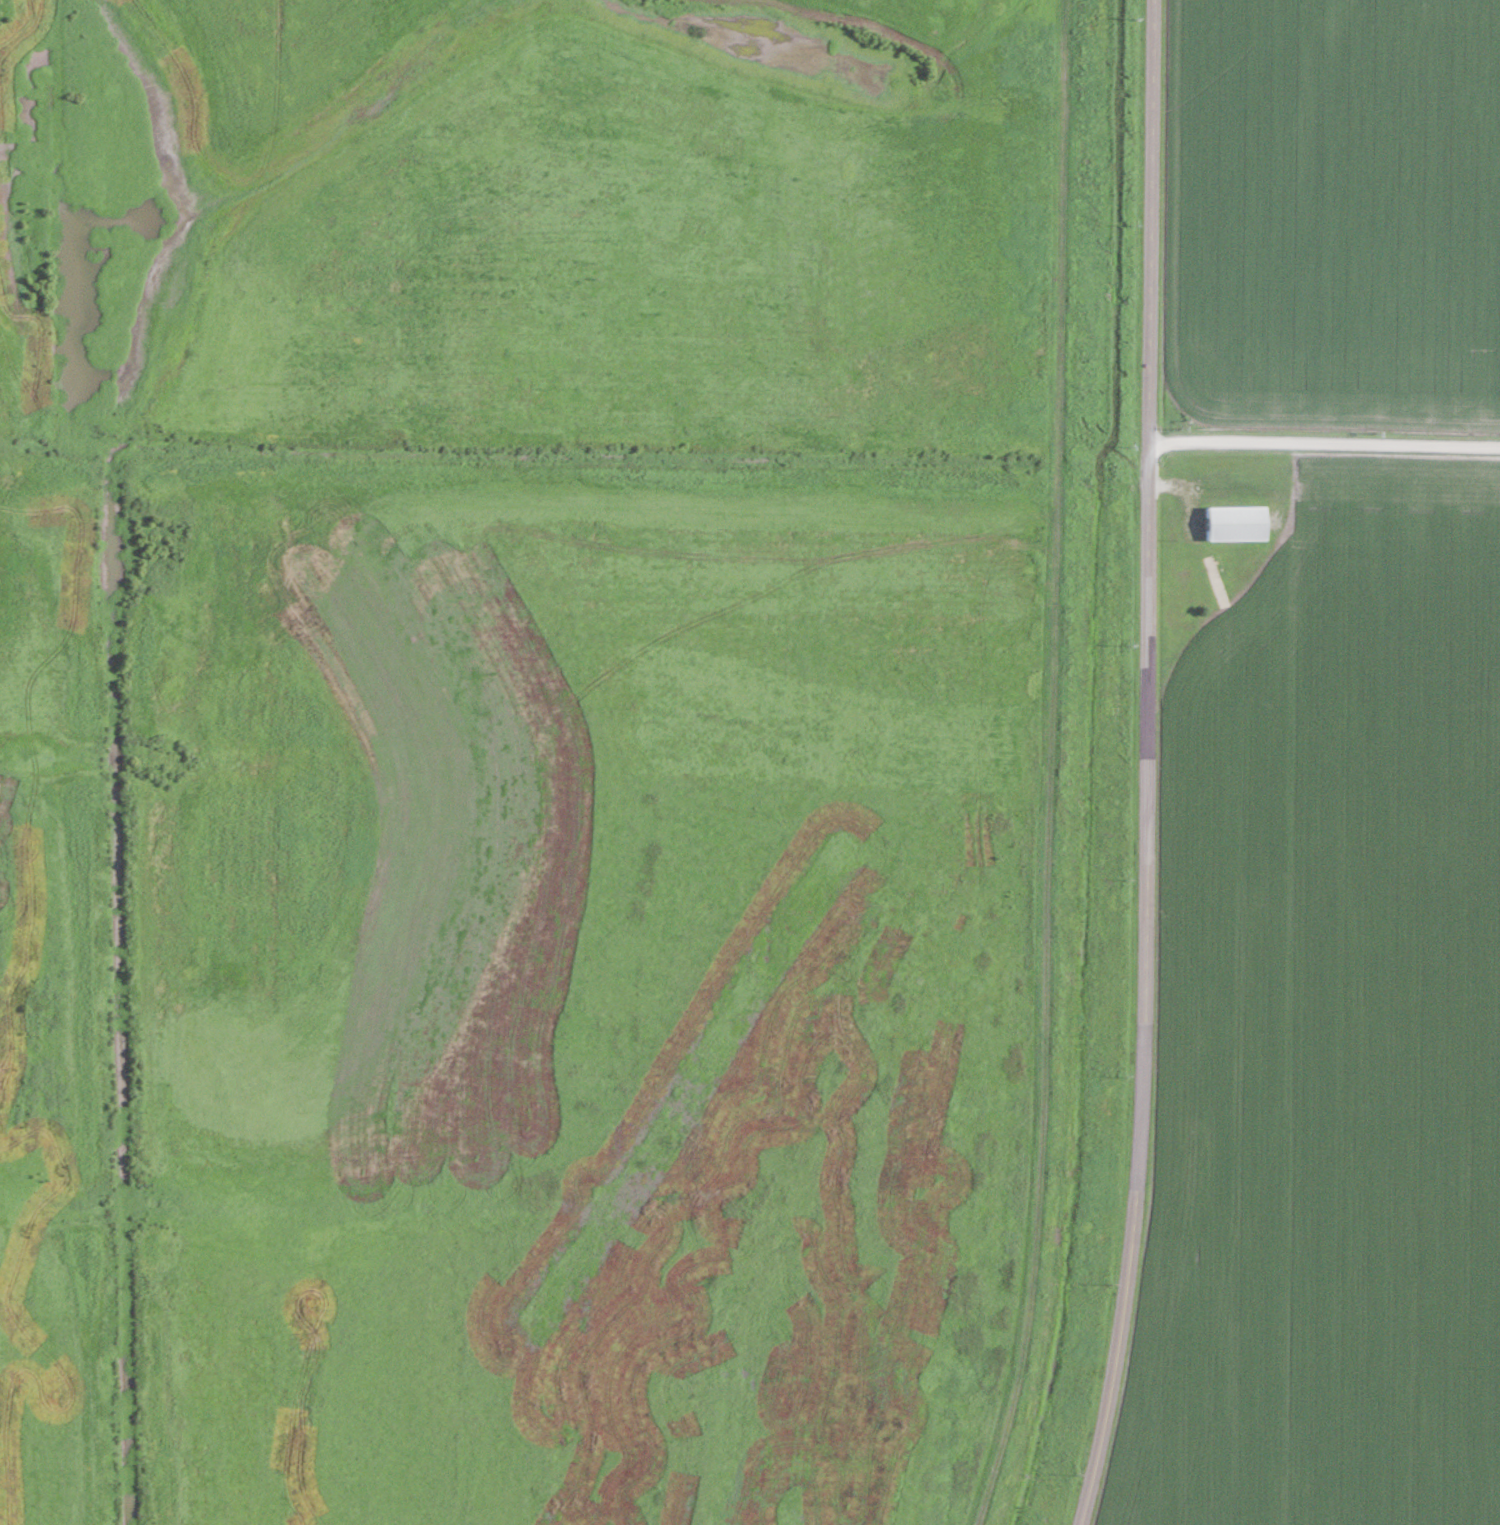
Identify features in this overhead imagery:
road: (1205, 440)
road: (1381, 443)
building: (1238, 521)
road: (1144, 765)

